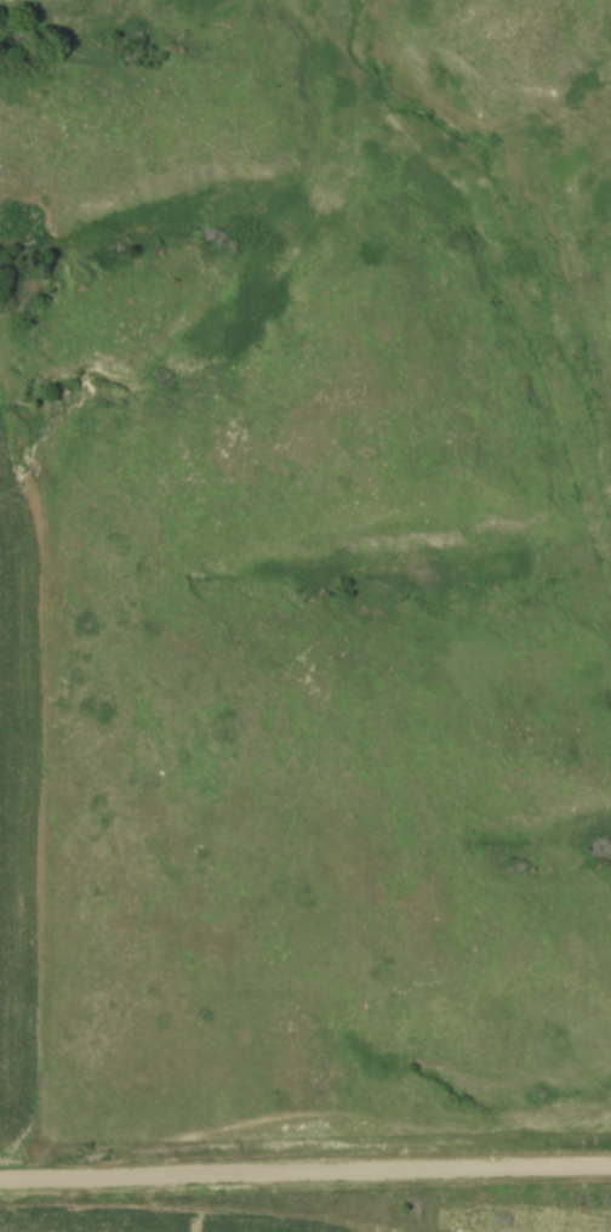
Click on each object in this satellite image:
road: (305, 1171)

